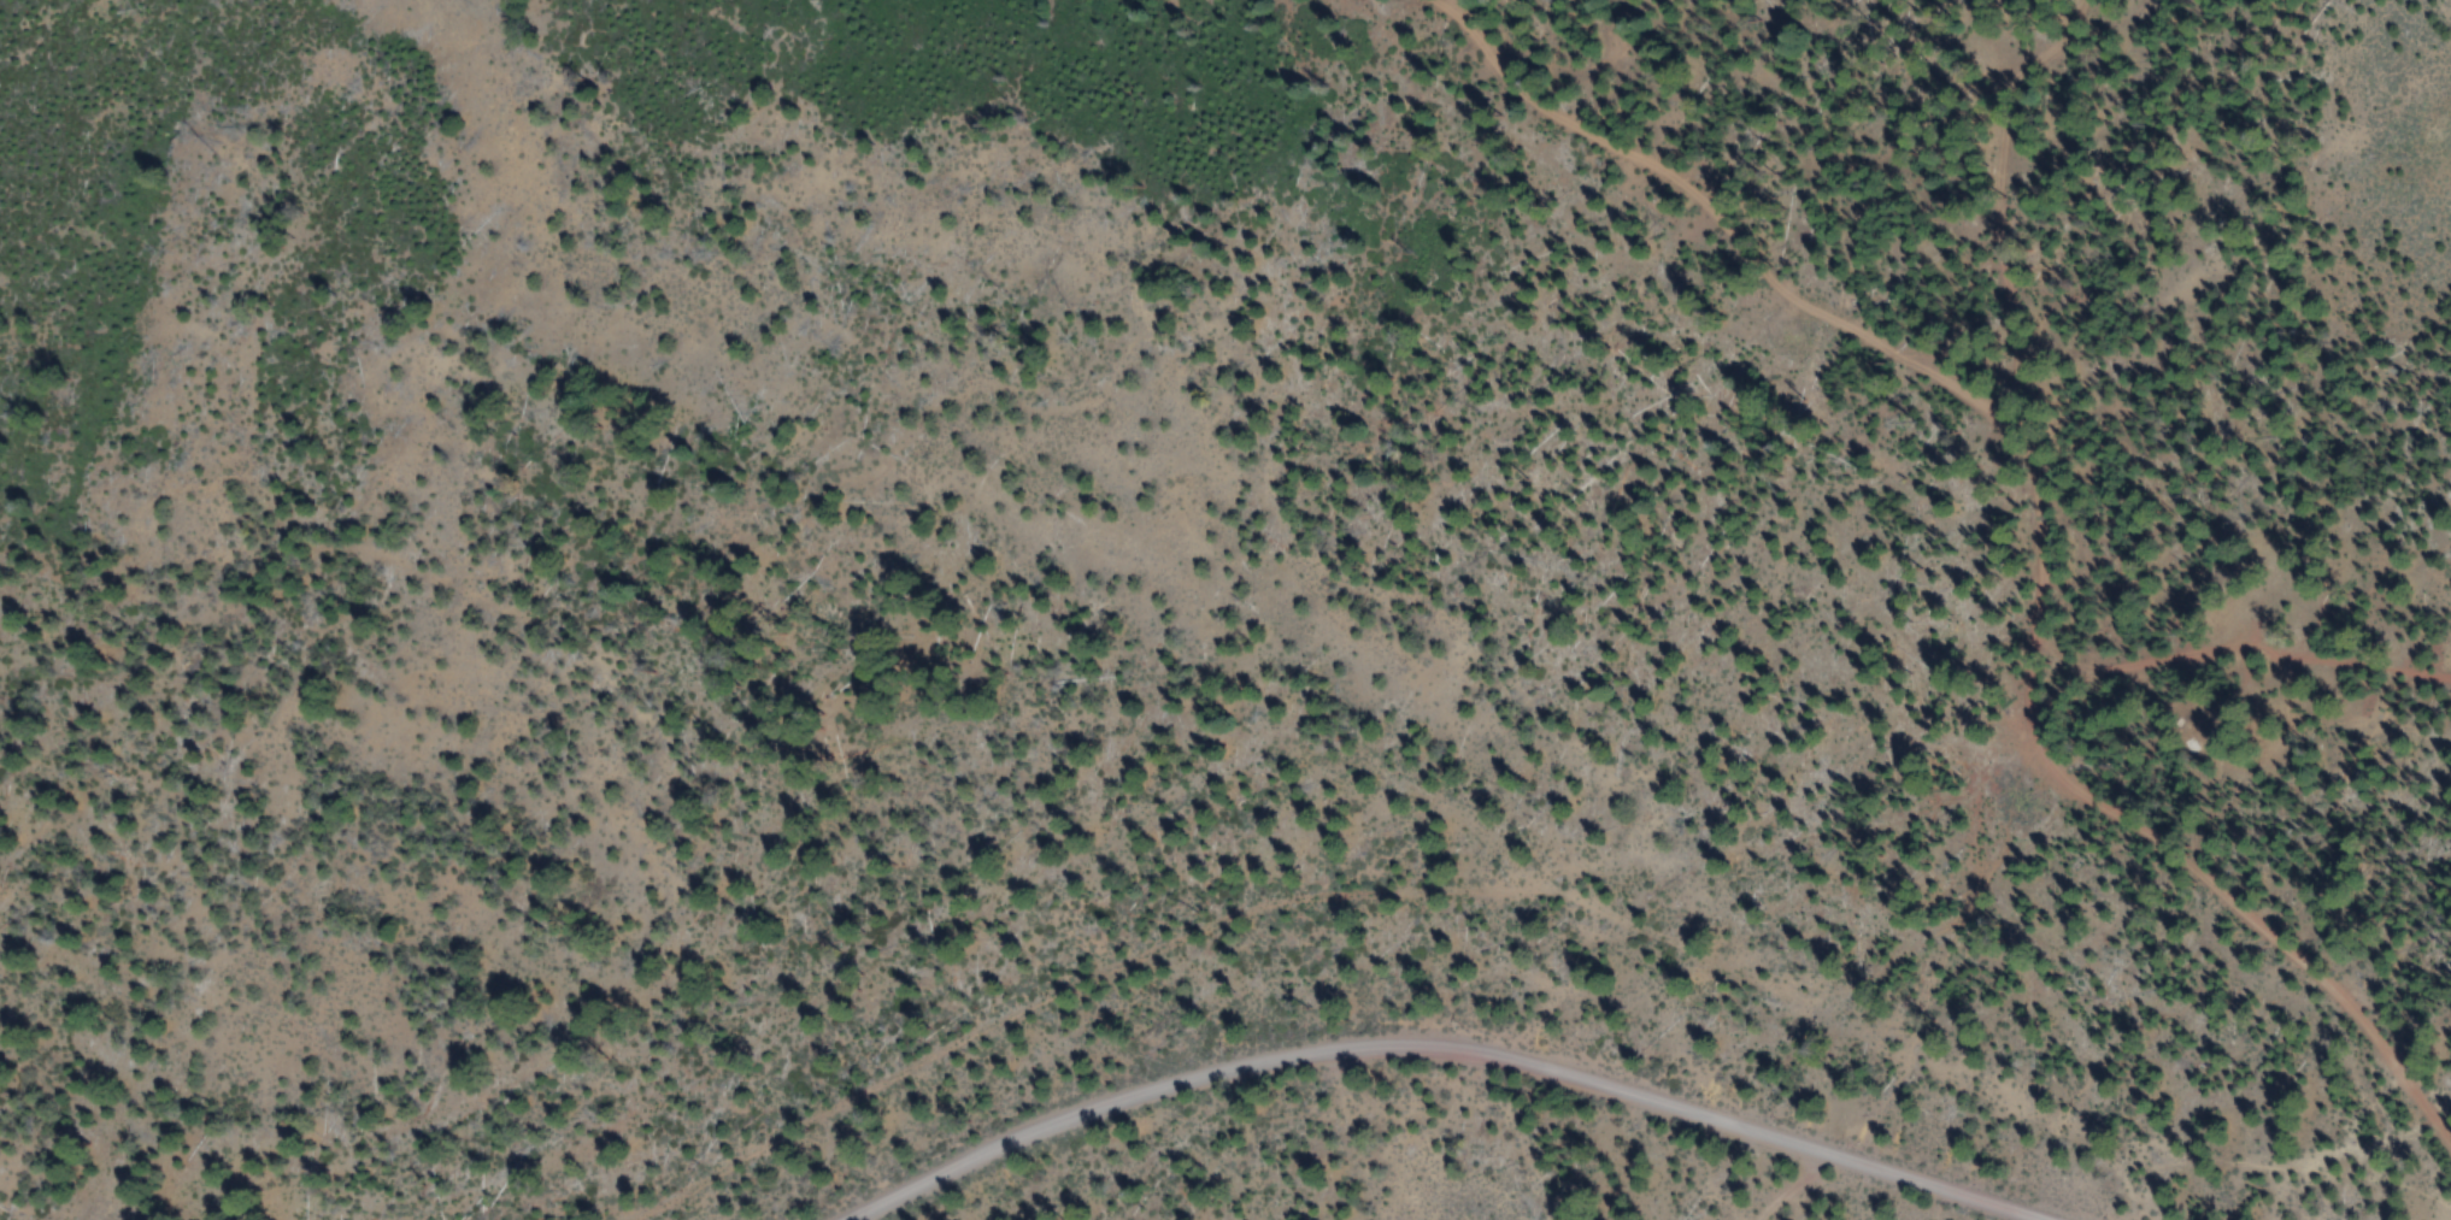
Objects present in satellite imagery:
road: (1700, 224)
road: (2038, 636)
road: (2244, 650)
road: (1522, 878)
road: (1448, 1053)
road: (1789, 1185)

